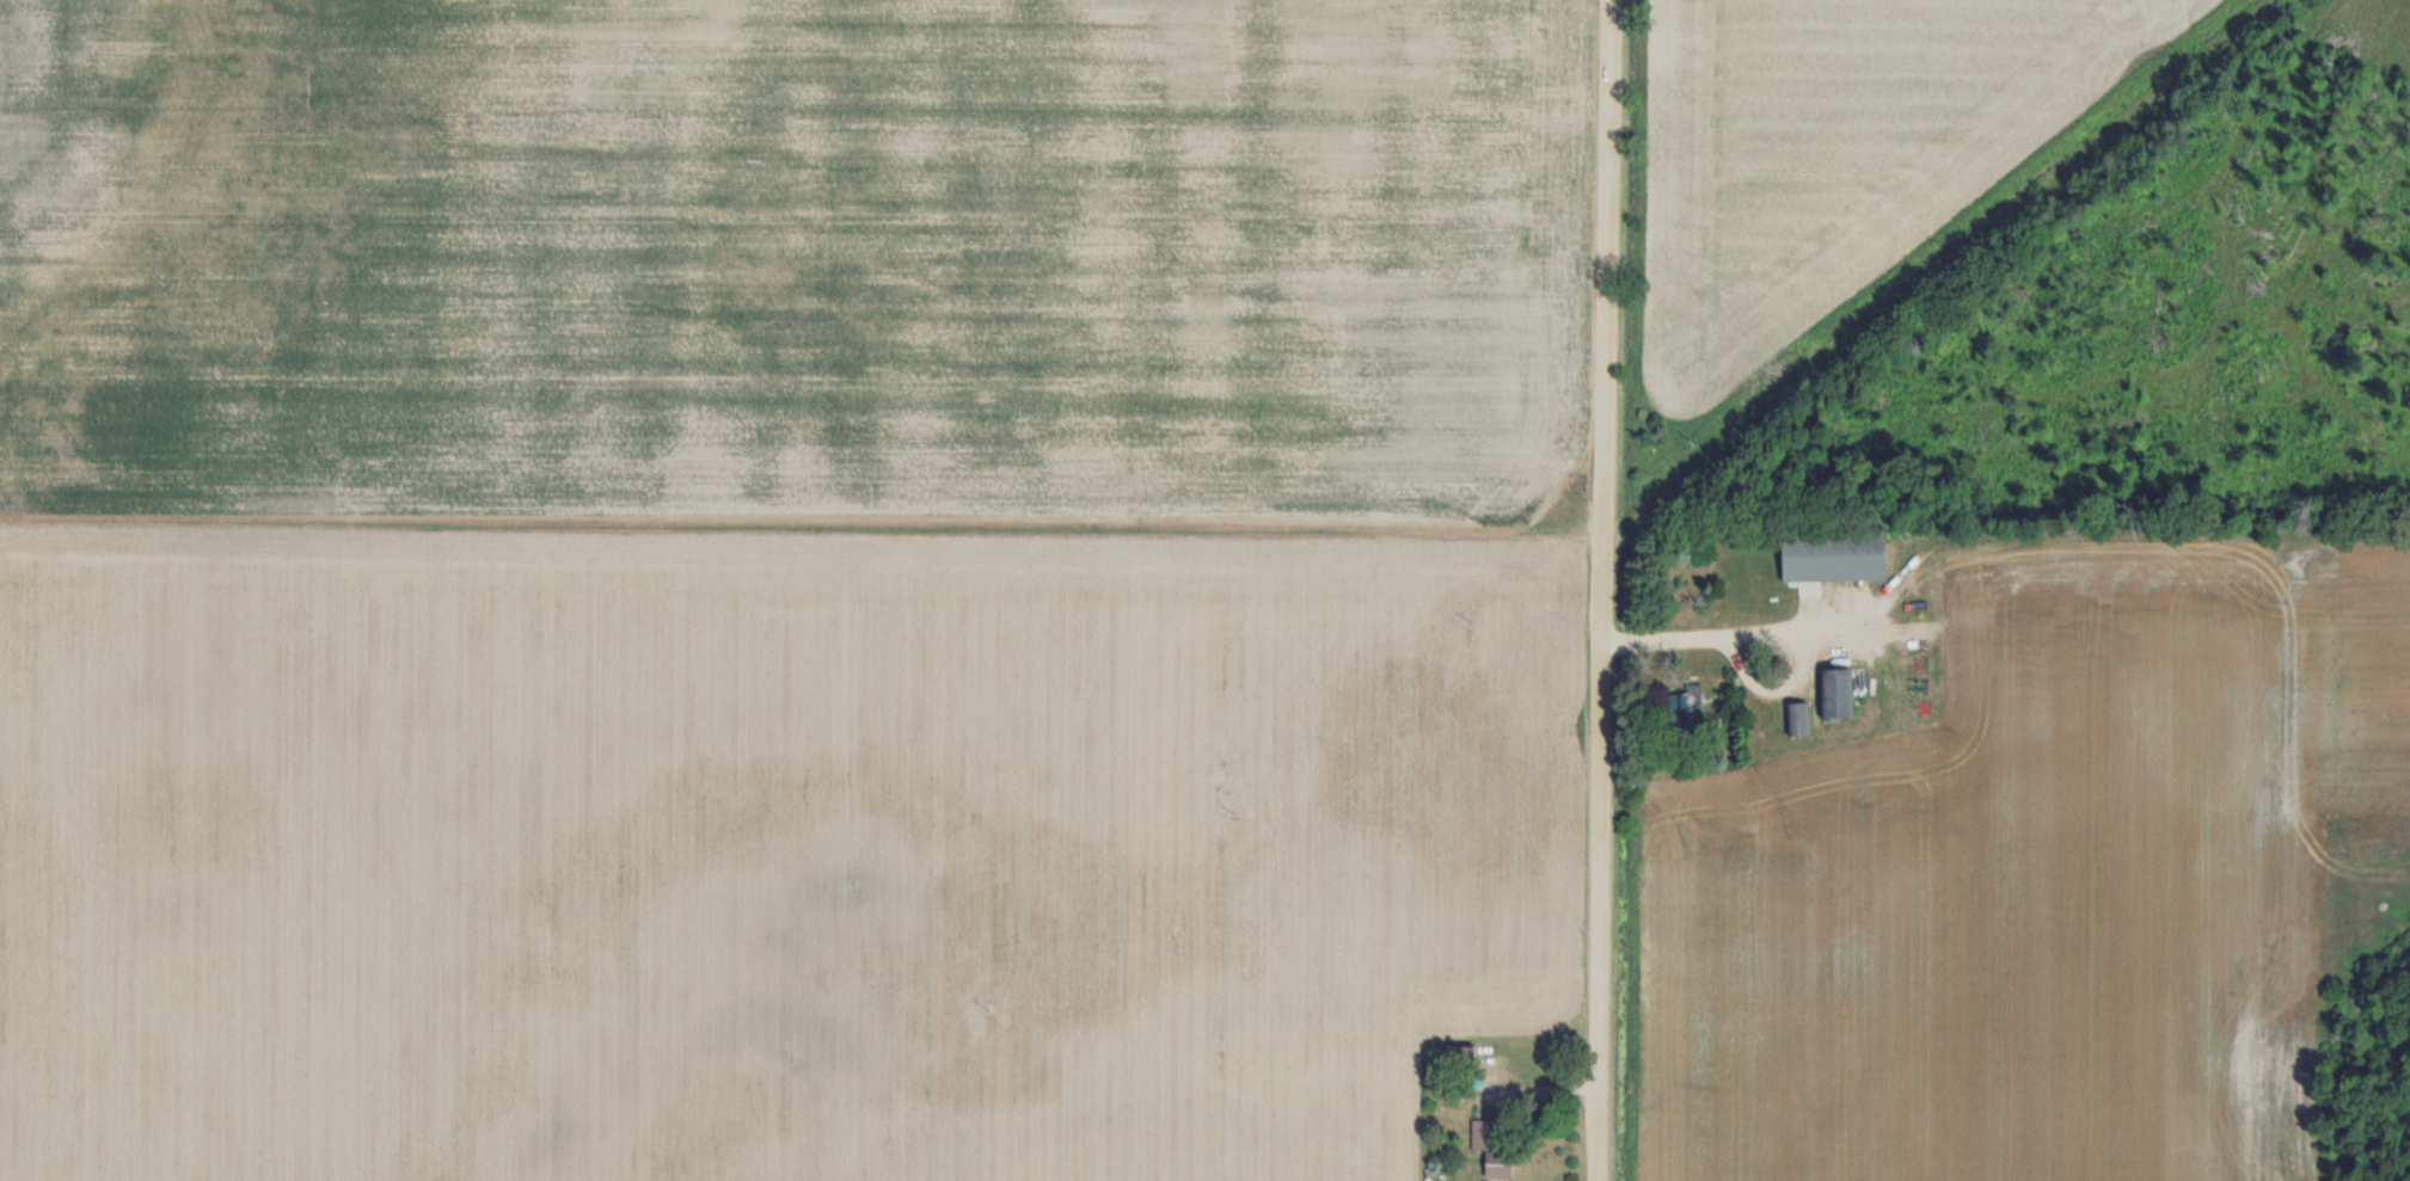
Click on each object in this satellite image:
building: (1829, 556)
road: (1607, 590)
building: (1834, 694)
building: (1684, 703)
building: (1797, 720)
building: (1458, 1057)
building: (1490, 1145)

